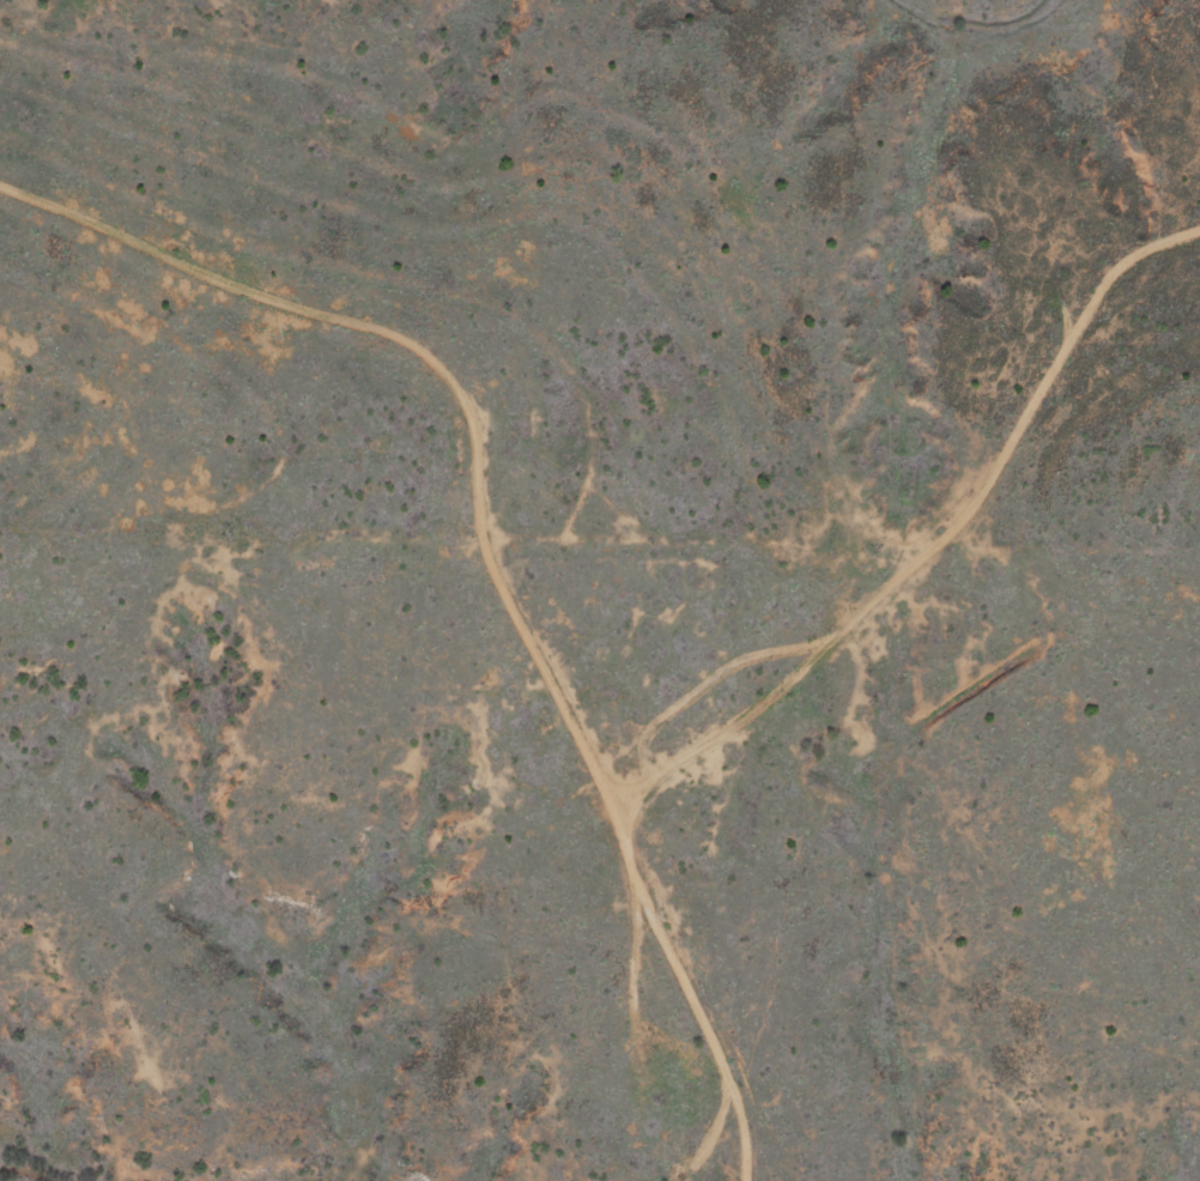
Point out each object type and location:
road: (174, 262)
road: (931, 537)
road: (546, 745)

